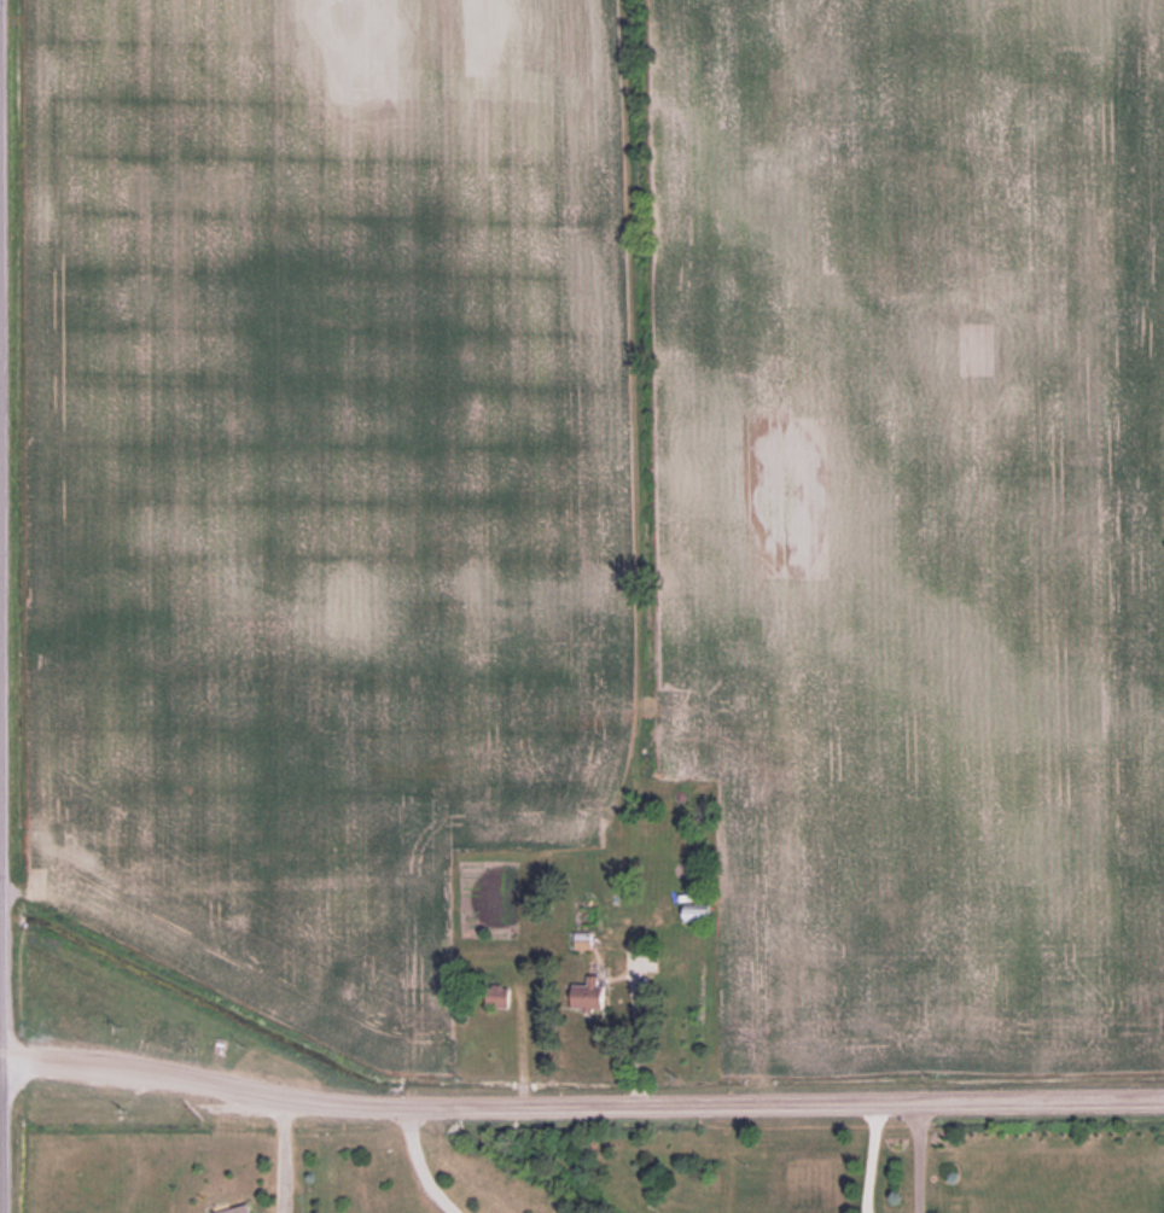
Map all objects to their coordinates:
crop: (609, 498)
building: (696, 911)
building: (583, 940)
building: (588, 993)
building: (497, 996)
road: (630, 1026)
road: (580, 1106)
road: (279, 1154)
road: (866, 1157)
road: (913, 1157)
road: (414, 1165)
building: (235, 1209)

